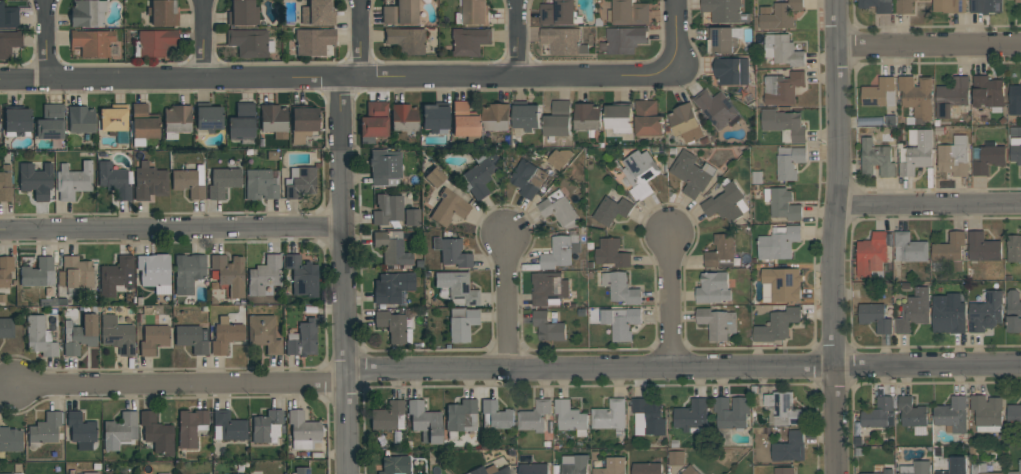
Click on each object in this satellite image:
building: (1018, 1)
building: (877, 5)
building: (949, 5)
building: (904, 6)
building: (986, 6)
building: (725, 10)
building: (472, 12)
building: (629, 12)
building: (87, 13)
building: (162, 13)
building: (242, 13)
building: (318, 13)
building: (400, 13)
building: (559, 13)
building: (781, 15)
building: (8, 17)
road: (674, 38)
building: (723, 38)
road: (517, 39)
building: (623, 39)
road: (205, 40)
road: (360, 40)
building: (405, 40)
building: (563, 40)
road: (45, 41)
building: (313, 41)
building: (469, 41)
building: (9, 43)
building: (92, 43)
building: (154, 43)
building: (249, 43)
road: (929, 46)
building: (782, 50)
building: (731, 70)
road: (337, 79)
building: (783, 87)
building: (988, 92)
building: (879, 93)
building: (951, 96)
building: (917, 98)
building: (1015, 99)
building: (716, 107)
building: (496, 116)
building: (526, 116)
building: (587, 116)
building: (403, 117)
building: (435, 118)
building: (619, 118)
building: (648, 118)
building: (209, 119)
building: (558, 119)
building: (80, 120)
building: (274, 120)
building: (464, 120)
building: (176, 121)
building: (242, 121)
building: (17, 122)
building: (50, 122)
building: (373, 122)
building: (685, 122)
building: (114, 123)
building: (142, 124)
building: (303, 124)
building: (784, 124)
building: (1016, 149)
building: (916, 152)
building: (954, 155)
building: (987, 157)
building: (560, 158)
building: (876, 159)
building: (789, 162)
building: (384, 168)
building: (640, 173)
building: (691, 173)
building: (481, 174)
building: (434, 177)
building: (528, 178)
building: (35, 180)
building: (73, 180)
building: (113, 181)
building: (189, 182)
building: (222, 182)
building: (300, 182)
building: (5, 183)
building: (149, 183)
building: (260, 184)
building: (727, 203)
building: (782, 203)
road: (928, 206)
building: (448, 208)
building: (387, 209)
building: (559, 209)
building: (612, 210)
building: (412, 217)
road: (171, 227)
road: (833, 236)
building: (778, 242)
building: (983, 247)
building: (391, 248)
building: (909, 248)
building: (1014, 248)
building: (561, 250)
building: (721, 251)
building: (949, 251)
building: (451, 252)
building: (612, 252)
building: (872, 255)
building: (5, 271)
building: (155, 272)
building: (38, 273)
building: (75, 273)
building: (188, 273)
building: (228, 274)
building: (264, 275)
building: (116, 276)
building: (302, 276)
road: (342, 276)
building: (781, 284)
building: (392, 287)
building: (620, 287)
building: (713, 287)
building: (457, 288)
building: (549, 288)
road: (670, 299)
road: (506, 302)
building: (914, 311)
building: (1013, 311)
building: (986, 312)
building: (948, 313)
building: (875, 316)
building: (621, 323)
building: (717, 323)
building: (461, 324)
building: (777, 325)
building: (548, 326)
building: (393, 327)
building: (6, 328)
building: (263, 334)
building: (79, 335)
building: (117, 335)
building: (225, 335)
building: (39, 337)
building: (192, 338)
building: (153, 339)
building: (302, 339)
road: (515, 373)
building: (782, 409)
building: (732, 412)
building: (987, 412)
building: (877, 413)
building: (913, 414)
building: (952, 414)
building: (1014, 414)
building: (535, 415)
building: (496, 416)
building: (611, 416)
building: (693, 416)
building: (388, 417)
building: (460, 417)
building: (571, 417)
building: (648, 417)
building: (424, 422)
building: (191, 426)
building: (228, 426)
building: (267, 427)
building: (46, 428)
building: (80, 430)
building: (119, 430)
building: (304, 432)
building: (157, 434)
building: (10, 440)
building: (789, 447)
building: (676, 458)
building: (574, 464)
building: (395, 465)
building: (1020, 465)
building: (612, 466)
building: (955, 466)
building: (916, 467)
building: (533, 468)
building: (647, 468)
building: (981, 469)
building: (489, 470)
building: (690, 470)
building: (784, 470)
building: (302, 471)
building: (881, 472)
building: (6, 473)
building: (90, 473)
building: (162, 473)

